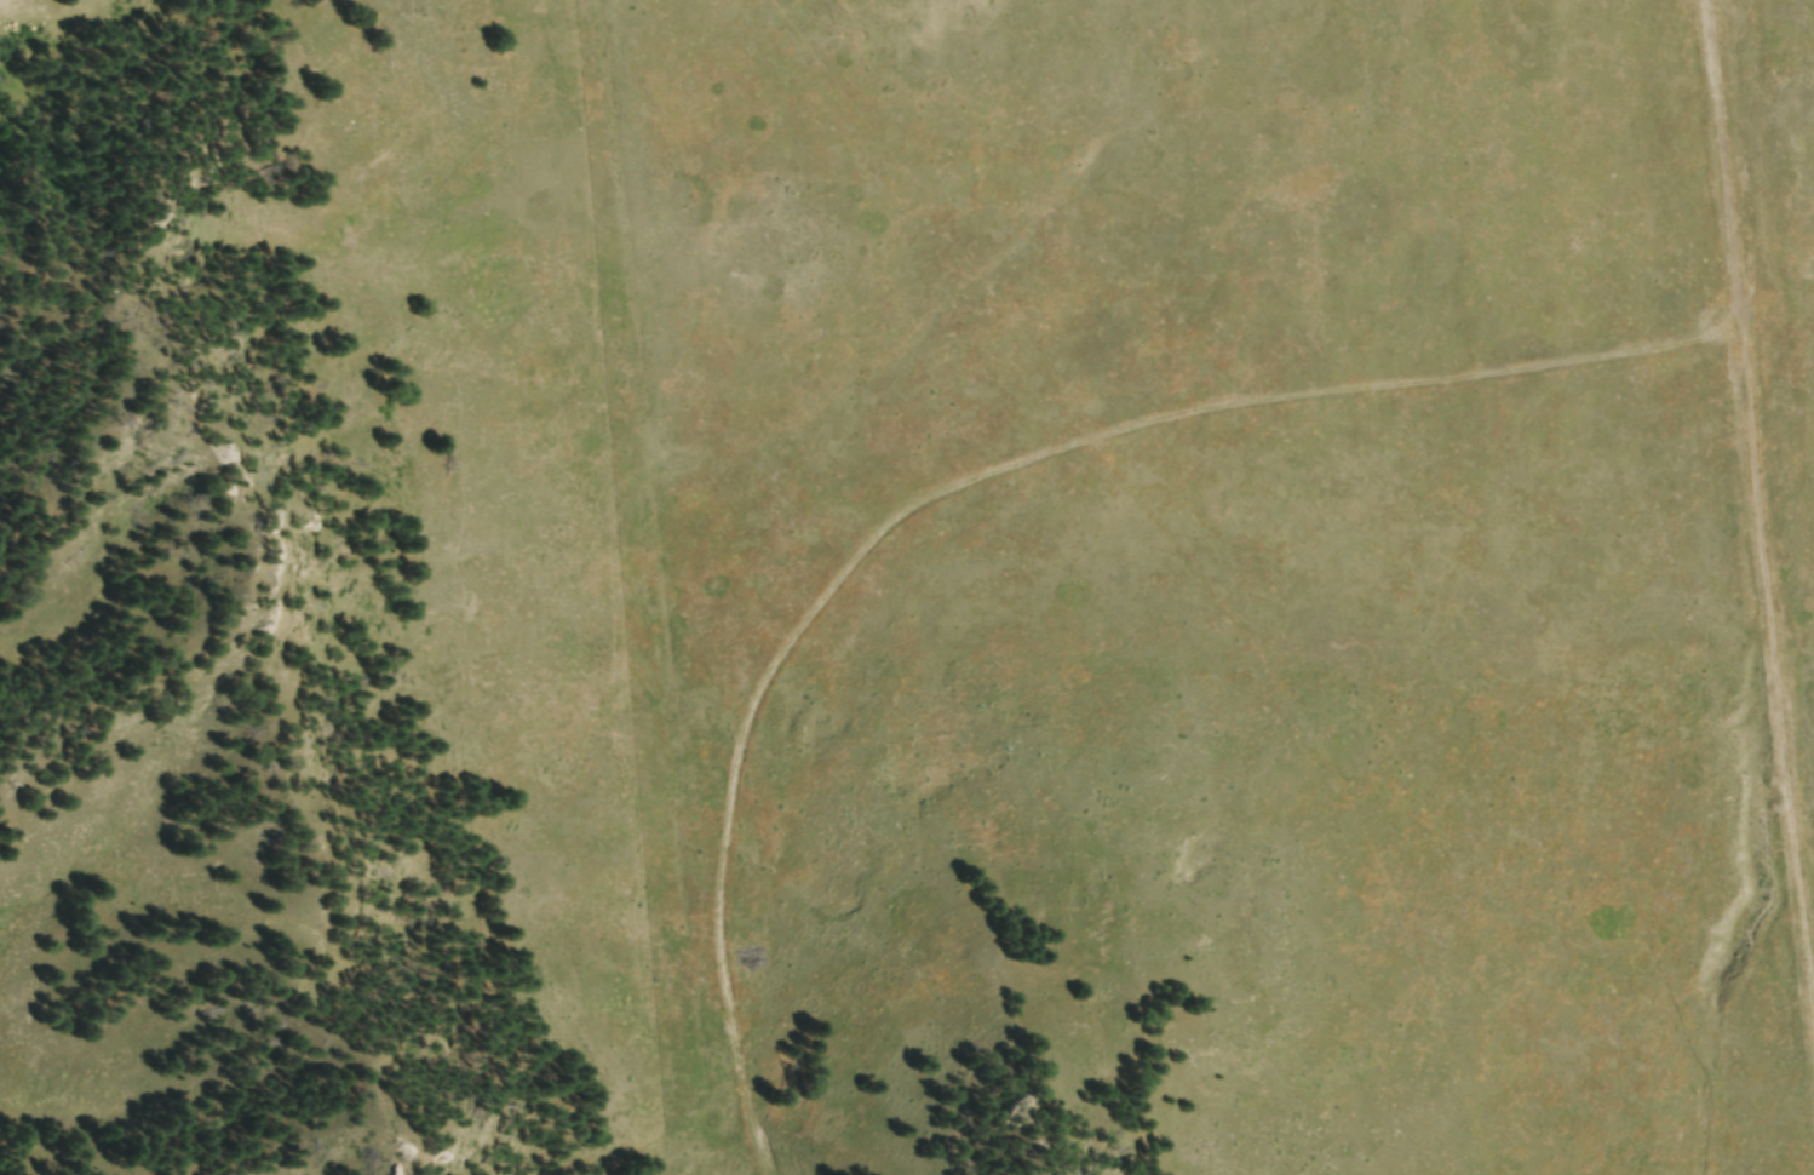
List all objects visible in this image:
road: (1760, 485)

